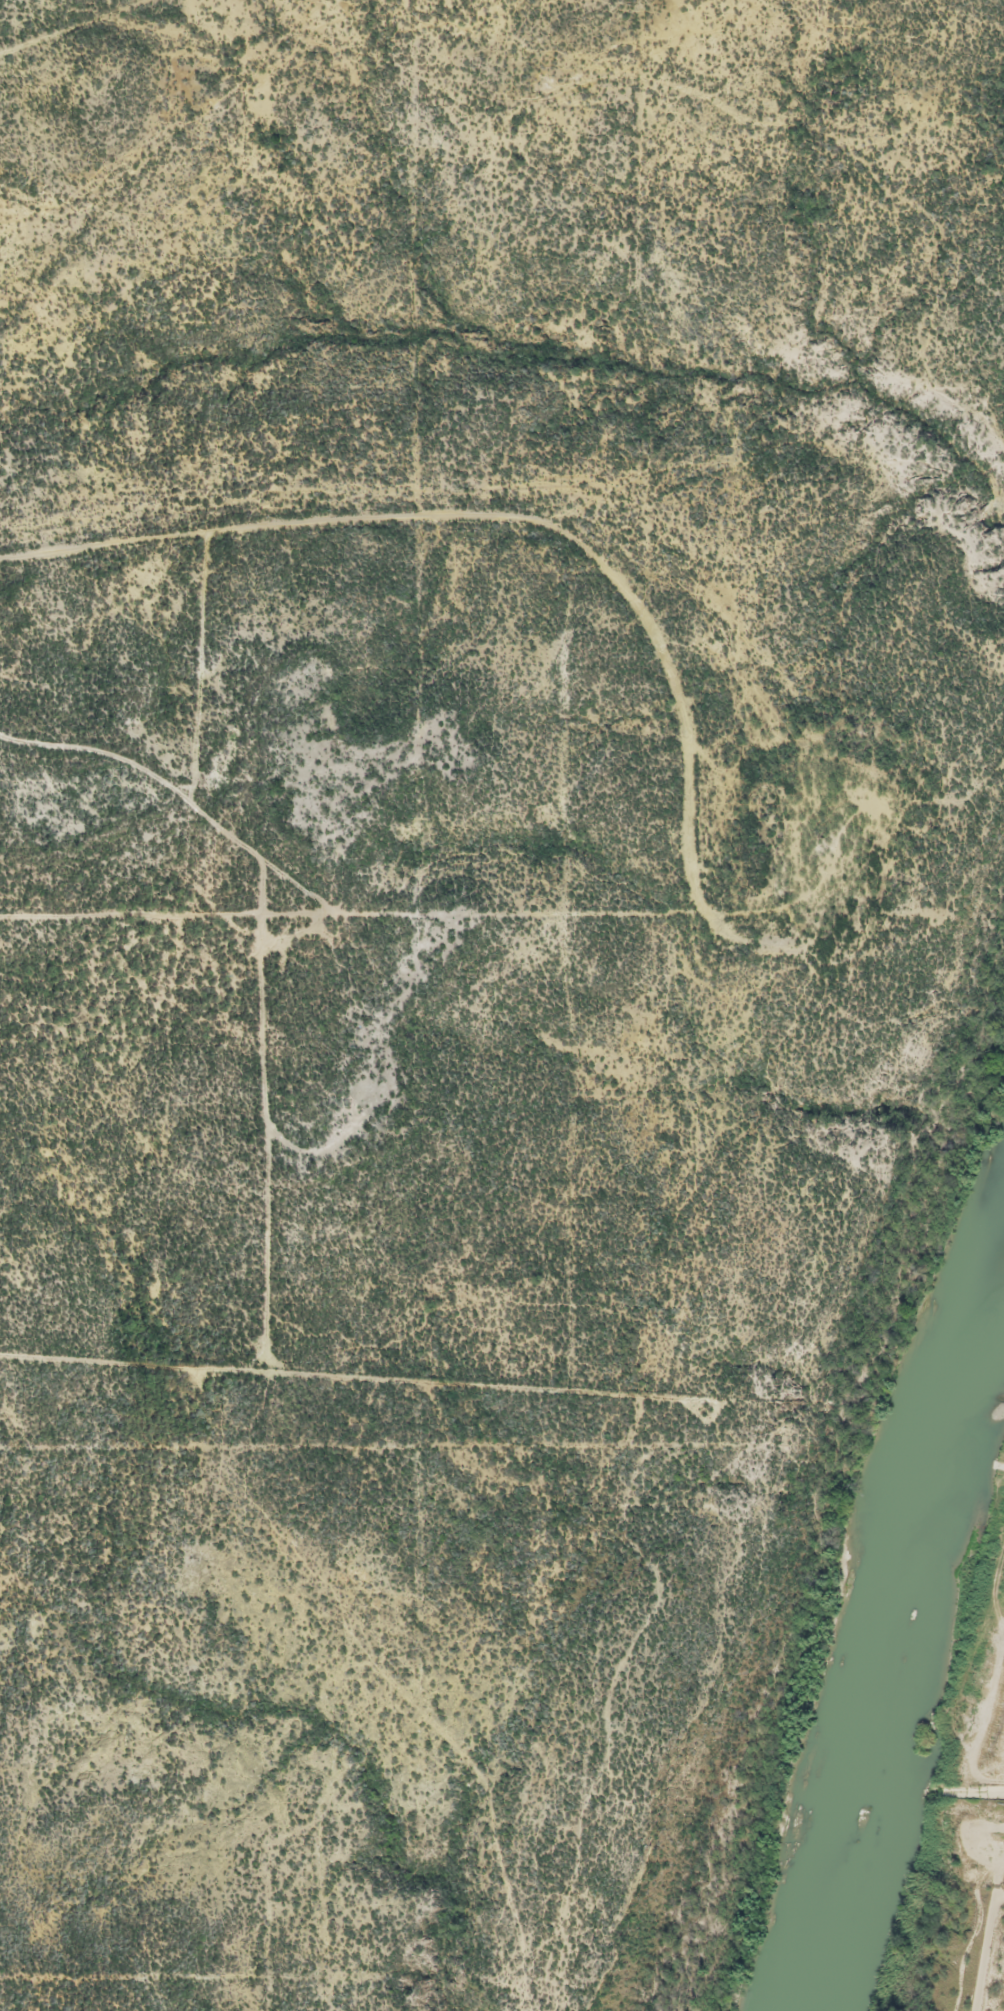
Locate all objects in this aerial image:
river: (909, 1593)
river: (821, 1932)

